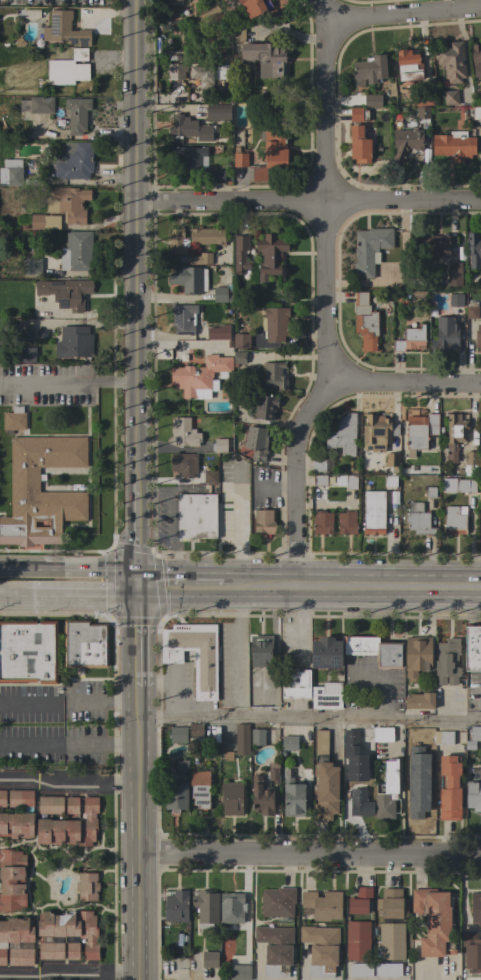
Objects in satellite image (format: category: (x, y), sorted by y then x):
building: (254, 8)
building: (211, 9)
building: (31, 14)
road: (403, 14)
building: (64, 29)
building: (237, 32)
building: (183, 57)
building: (266, 59)
building: (476, 59)
building: (451, 61)
building: (407, 66)
building: (68, 68)
building: (370, 69)
building: (177, 71)
building: (209, 73)
building: (450, 97)
building: (372, 100)
building: (423, 100)
building: (41, 105)
building: (218, 112)
building: (422, 113)
building: (476, 113)
building: (77, 114)
building: (358, 114)
building: (190, 128)
building: (405, 141)
building: (359, 145)
building: (453, 145)
building: (271, 154)
building: (188, 156)
building: (239, 158)
building: (73, 161)
building: (11, 172)
building: (216, 176)
road: (308, 204)
building: (62, 208)
building: (206, 236)
road: (135, 242)
building: (177, 242)
building: (439, 244)
building: (369, 248)
building: (473, 249)
building: (76, 251)
building: (240, 254)
building: (269, 255)
building: (200, 258)
building: (29, 266)
building: (454, 273)
building: (188, 279)
building: (65, 292)
building: (222, 293)
road: (328, 296)
building: (455, 300)
building: (472, 312)
building: (183, 319)
building: (365, 322)
building: (275, 323)
building: (217, 332)
building: (24, 333)
building: (445, 335)
building: (478, 336)
building: (410, 339)
building: (241, 341)
building: (74, 342)
building: (28, 354)
building: (238, 357)
building: (274, 375)
building: (201, 376)
road: (73, 381)
road: (406, 384)
building: (266, 407)
building: (14, 419)
building: (480, 426)
building: (420, 430)
building: (377, 431)
building: (184, 432)
building: (343, 434)
building: (455, 435)
building: (256, 443)
building: (220, 445)
building: (184, 464)
building: (469, 464)
building: (318, 465)
building: (391, 469)
building: (210, 476)
building: (24, 479)
building: (320, 480)
building: (344, 480)
building: (457, 485)
building: (429, 492)
building: (373, 512)
building: (196, 515)
building: (418, 519)
building: (454, 520)
building: (480, 520)
building: (263, 522)
building: (322, 522)
building: (346, 522)
road: (236, 528)
road: (138, 536)
road: (70, 574)
traffic signals: (139, 588)
road: (184, 588)
road: (355, 588)
road: (89, 595)
road: (19, 598)
road: (138, 637)
building: (84, 643)
building: (360, 644)
building: (473, 648)
building: (261, 650)
building: (28, 651)
road: (239, 652)
building: (326, 653)
building: (194, 655)
building: (389, 655)
building: (417, 656)
building: (447, 660)
building: (295, 683)
building: (324, 698)
building: (420, 700)
road: (68, 703)
road: (309, 717)
building: (195, 730)
building: (383, 734)
building: (178, 735)
building: (257, 736)
building: (443, 737)
building: (473, 737)
building: (241, 739)
building: (289, 742)
building: (416, 742)
road: (68, 744)
building: (227, 756)
building: (429, 758)
building: (180, 765)
building: (273, 771)
building: (324, 780)
road: (68, 781)
building: (449, 787)
building: (199, 788)
building: (386, 791)
building: (473, 794)
building: (175, 796)
building: (294, 796)
building: (261, 797)
building: (2, 798)
building: (231, 798)
building: (360, 803)
building: (50, 804)
building: (18, 815)
building: (70, 824)
road: (137, 833)
road: (309, 857)
building: (12, 880)
building: (87, 886)
building: (359, 900)
building: (277, 902)
building: (323, 904)
building: (390, 904)
building: (176, 906)
building: (231, 907)
building: (205, 908)
building: (476, 908)
building: (434, 921)
building: (71, 931)
building: (15, 933)
building: (357, 940)
building: (391, 941)
building: (275, 949)
building: (321, 949)
building: (50, 950)
building: (471, 955)
building: (20, 956)
building: (208, 959)
building: (375, 969)
building: (239, 972)
road: (68, 973)

